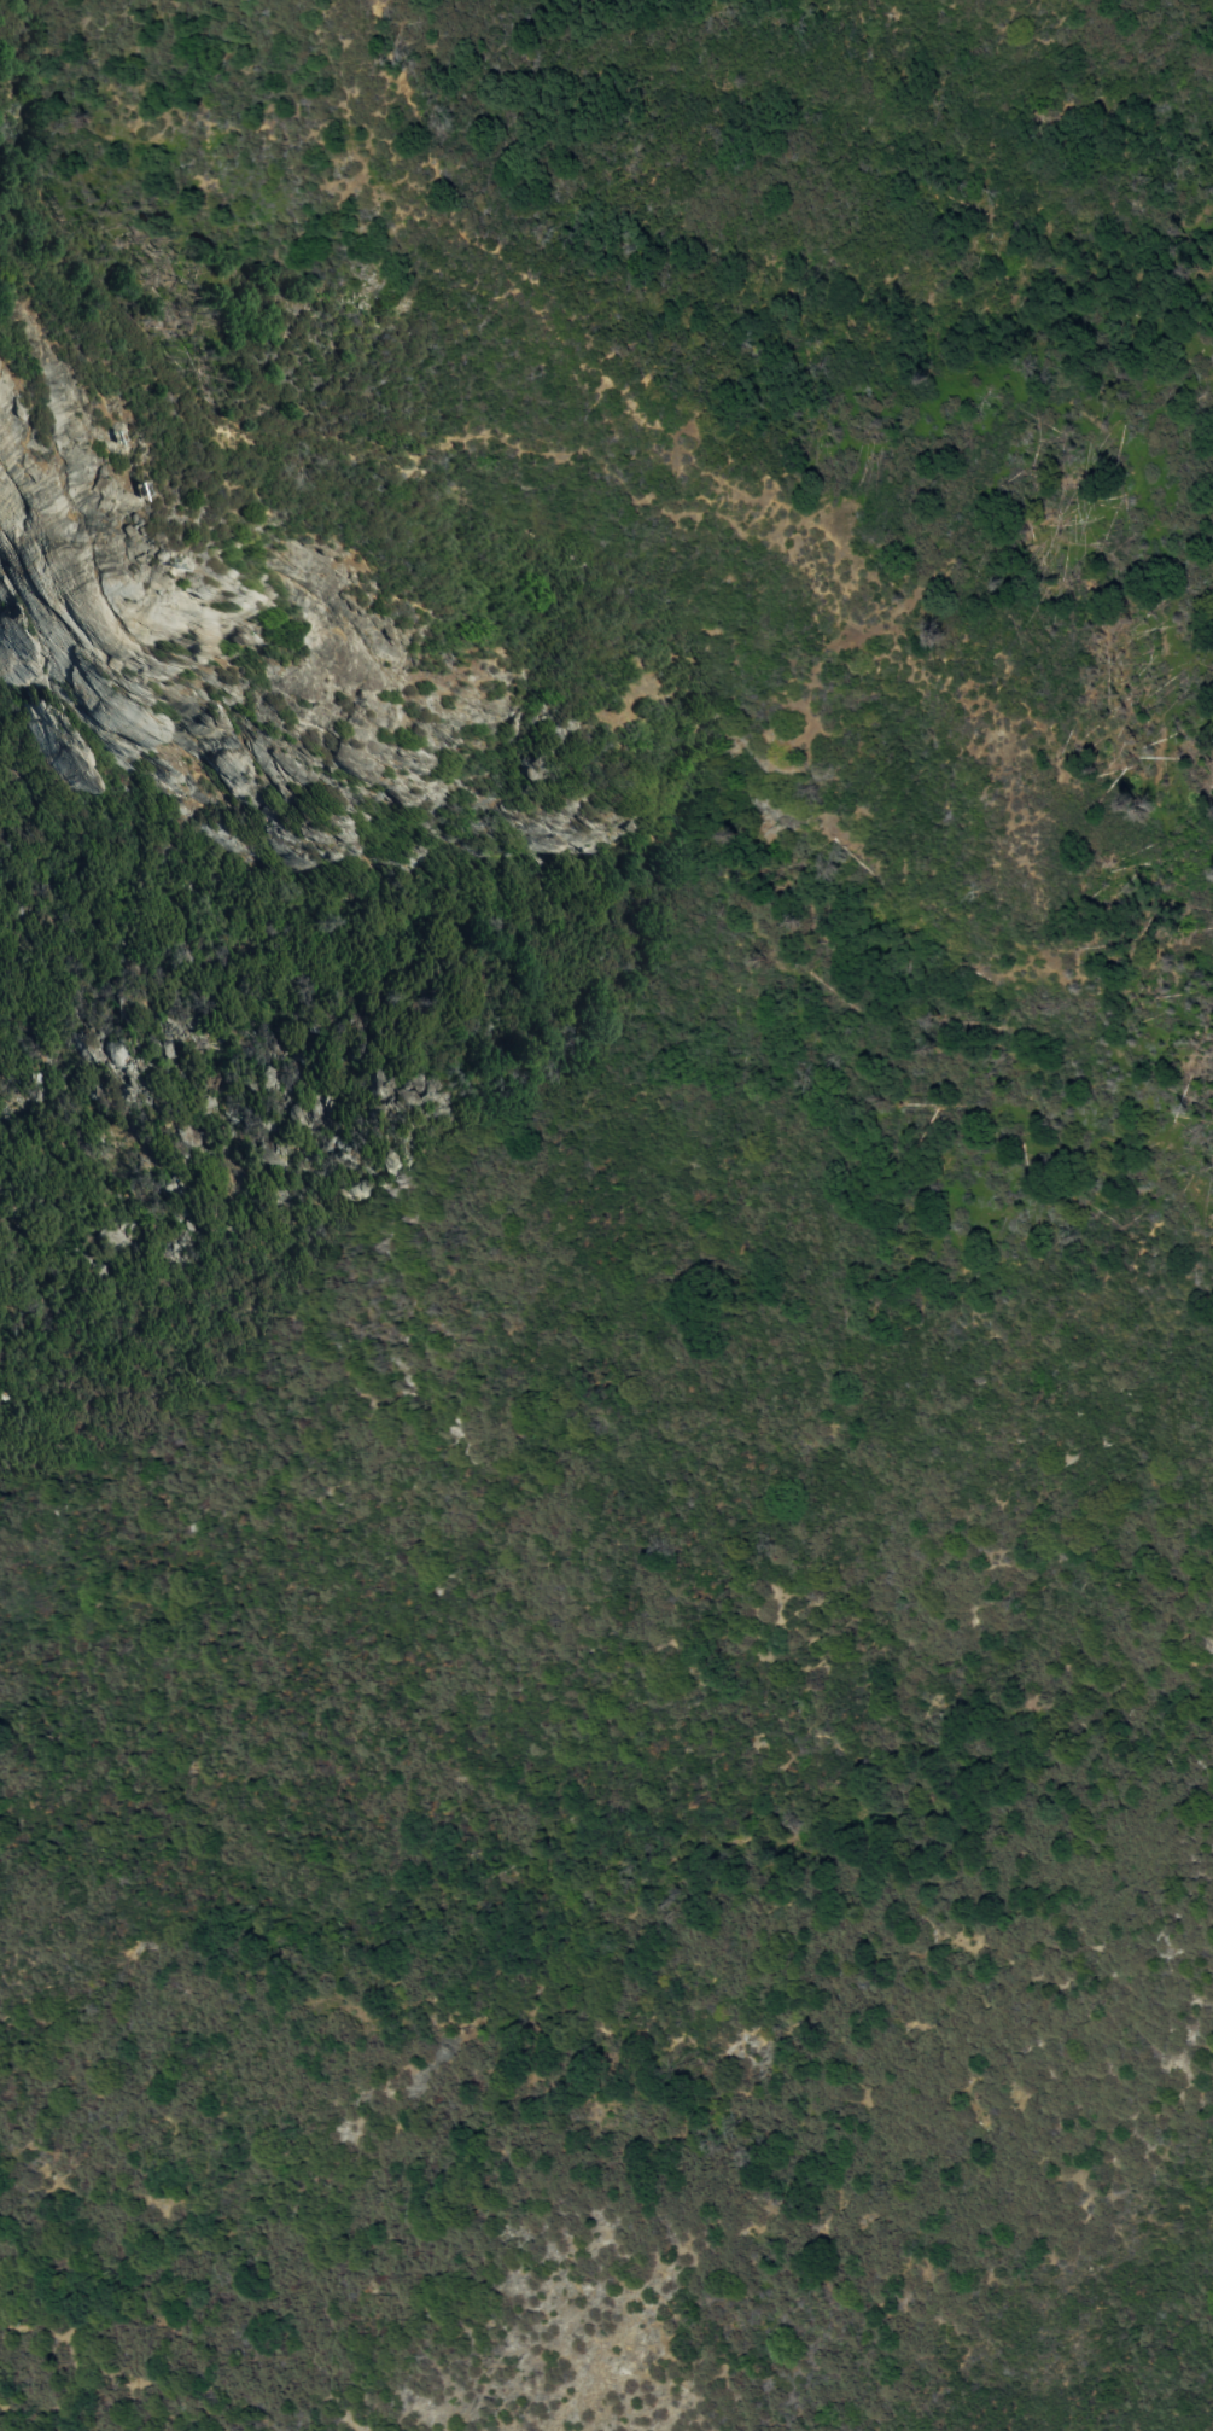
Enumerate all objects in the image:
road: (829, 573)

